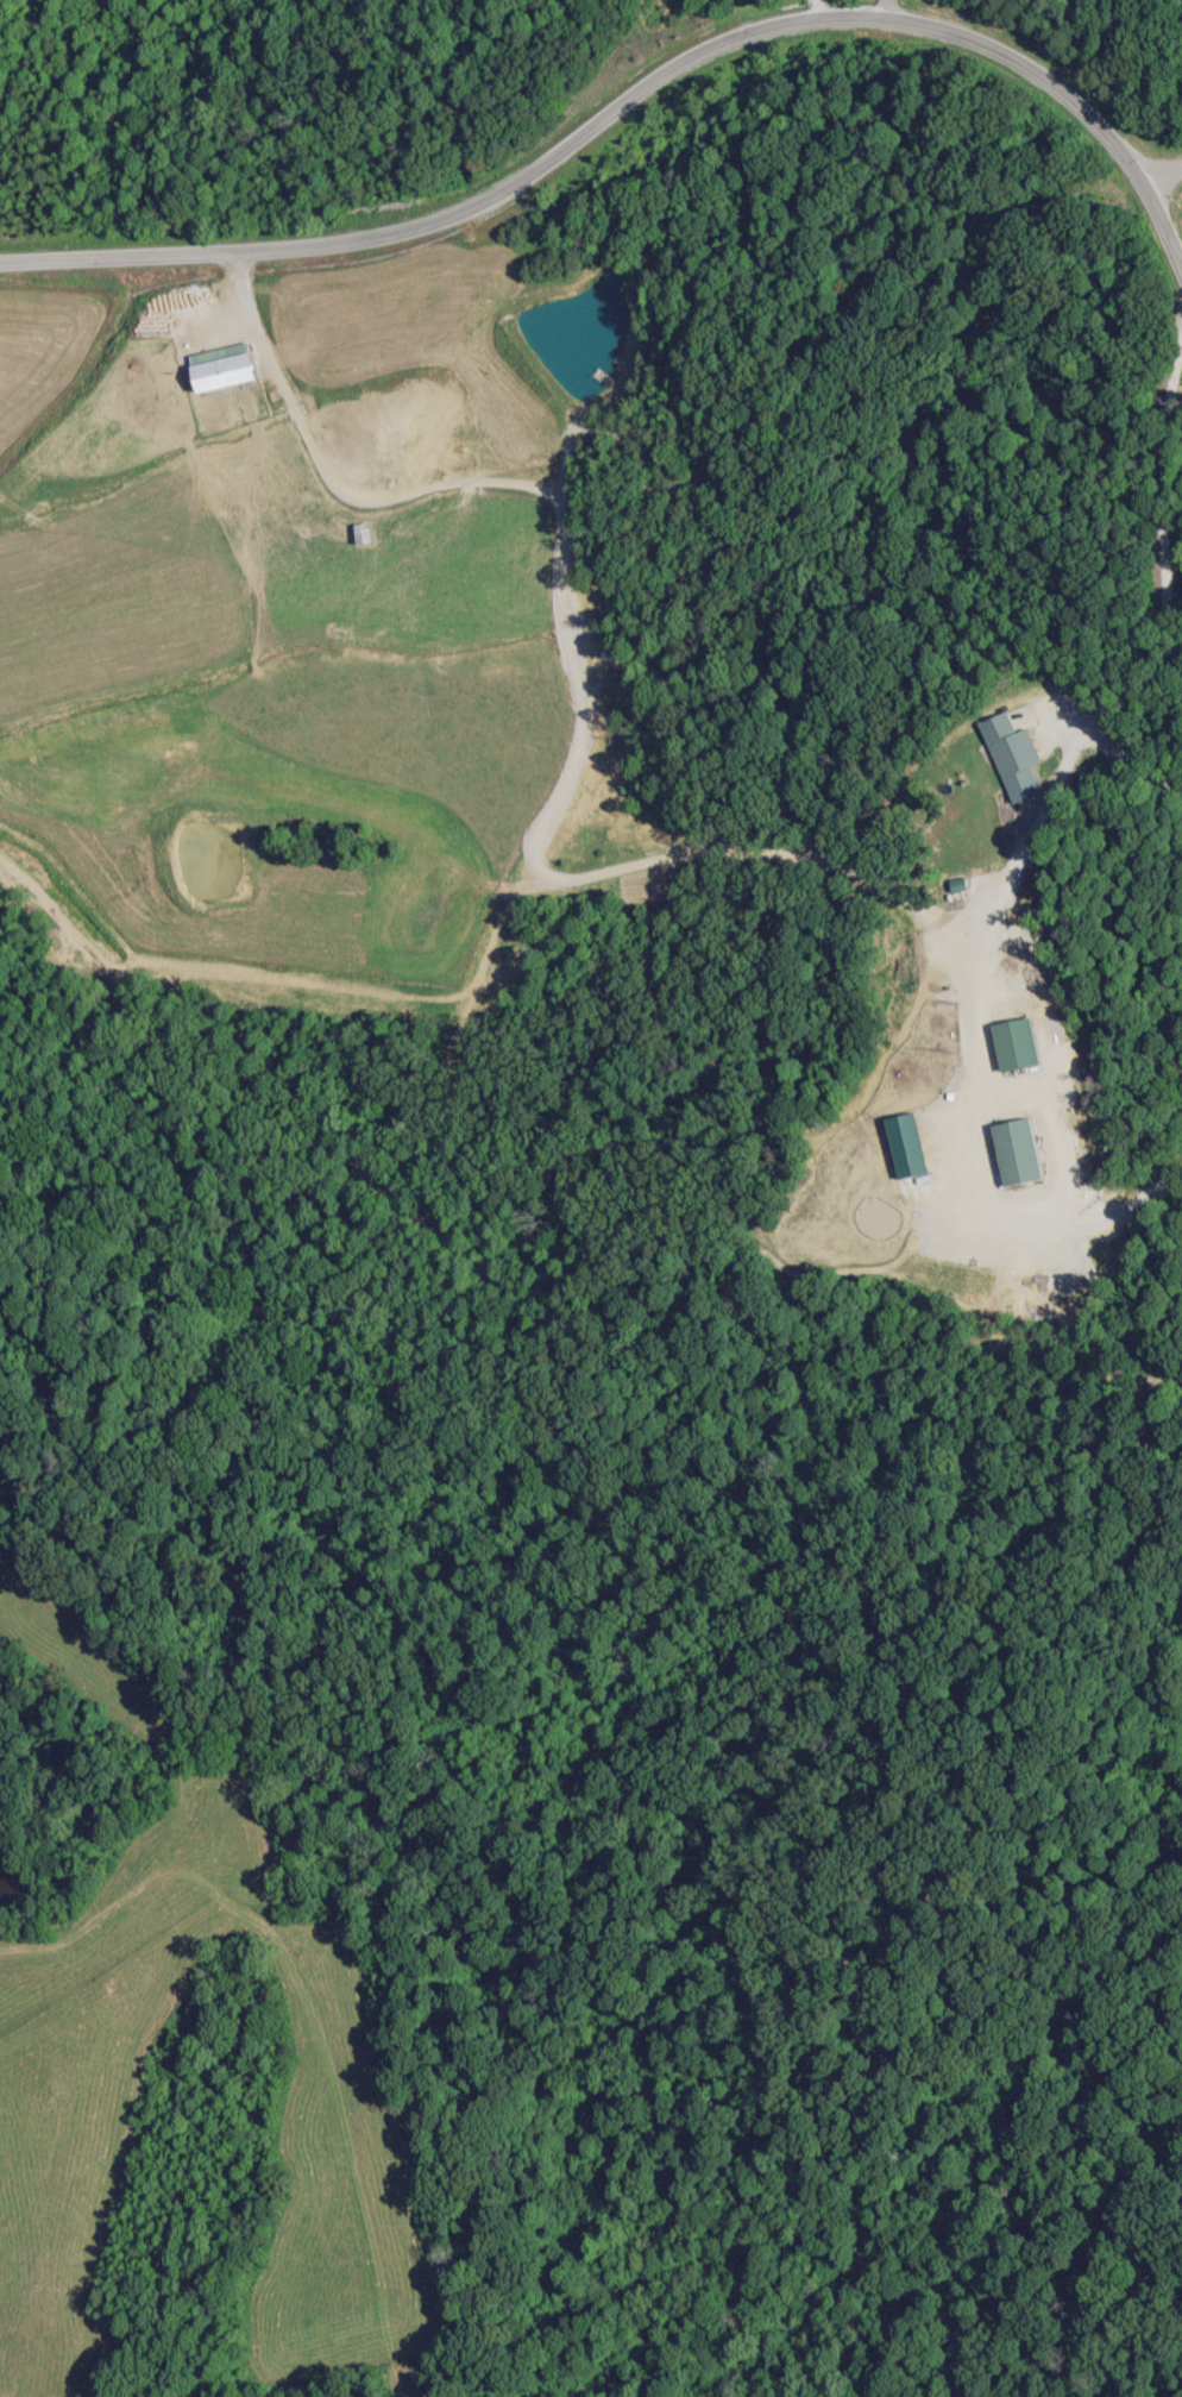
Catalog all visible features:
road: (610, 123)
building: (224, 371)
road: (564, 516)
building: (361, 533)
road: (1168, 554)
building: (1008, 746)
road: (1017, 871)
building: (1017, 1043)
building: (1018, 1152)

